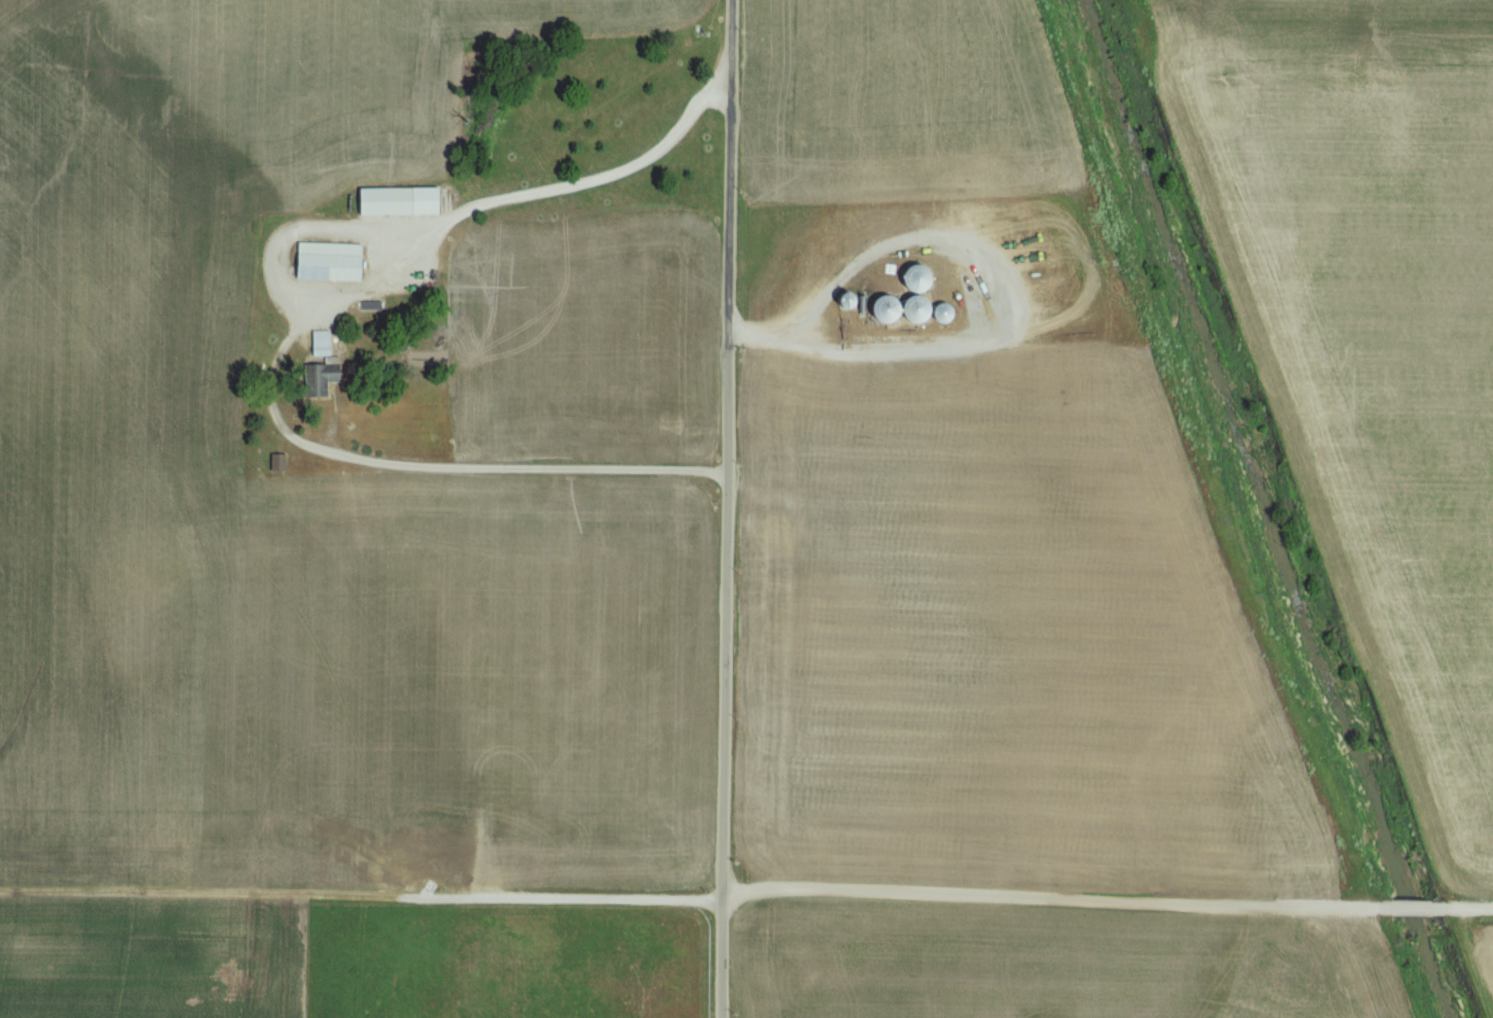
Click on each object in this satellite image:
road: (620, 167)
building: (405, 202)
building: (335, 262)
building: (925, 280)
building: (857, 300)
building: (893, 309)
building: (934, 310)
road: (1011, 316)
building: (326, 344)
building: (326, 380)
road: (729, 448)
river: (1247, 449)
road: (321, 450)
building: (283, 463)
building: (789, 553)
road: (746, 890)
river: (1412, 907)
road: (721, 957)
river: (1431, 968)

